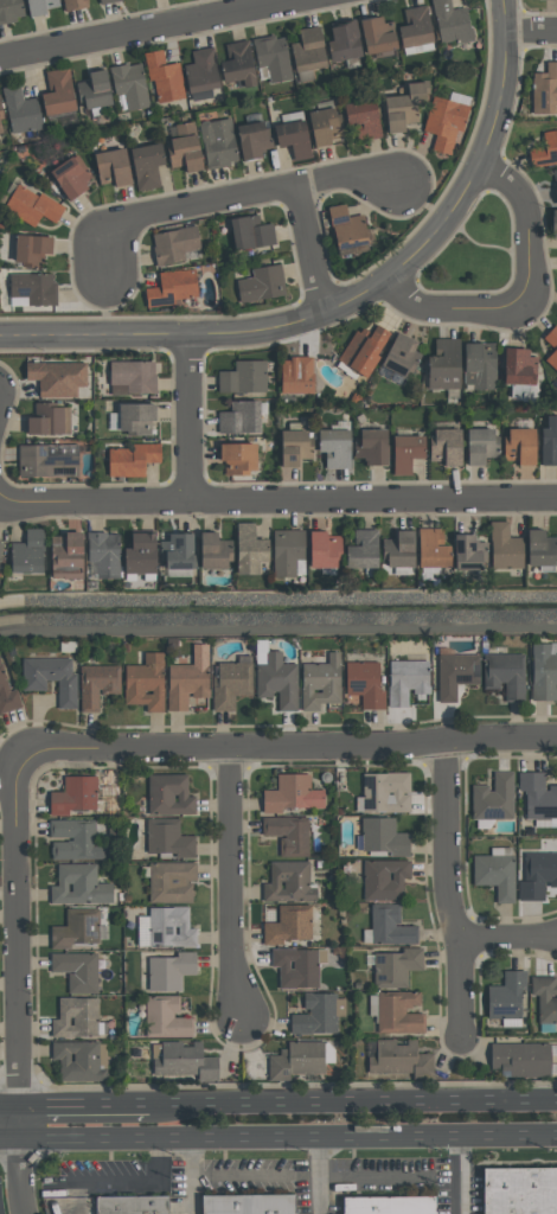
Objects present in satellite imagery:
building: (109, 1)
building: (75, 4)
building: (40, 6)
building: (9, 11)
building: (450, 21)
building: (415, 26)
road: (531, 28)
road: (152, 32)
building: (377, 34)
building: (342, 41)
building: (308, 49)
building: (271, 57)
building: (237, 63)
building: (201, 71)
building: (162, 77)
building: (129, 85)
building: (94, 89)
building: (545, 89)
building: (57, 92)
building: (403, 107)
building: (20, 110)
building: (1, 113)
building: (363, 117)
building: (444, 121)
building: (325, 126)
building: (0, 130)
building: (254, 138)
building: (294, 138)
building: (217, 142)
building: (185, 147)
building: (544, 151)
building: (146, 164)
building: (113, 166)
building: (71, 175)
building: (555, 184)
road: (232, 197)
building: (32, 206)
building: (553, 222)
road: (527, 225)
building: (346, 228)
building: (250, 231)
building: (173, 244)
road: (312, 248)
building: (31, 249)
building: (262, 283)
building: (33, 287)
building: (172, 287)
road: (351, 298)
road: (449, 312)
building: (552, 345)
building: (361, 349)
building: (399, 356)
building: (443, 364)
building: (479, 365)
building: (518, 366)
building: (133, 375)
building: (296, 375)
building: (57, 376)
building: (243, 377)
building: (136, 417)
building: (238, 417)
building: (49, 418)
road: (188, 418)
building: (549, 441)
building: (480, 445)
building: (371, 446)
building: (519, 446)
building: (294, 447)
building: (334, 447)
building: (444, 447)
building: (405, 453)
building: (237, 458)
building: (130, 459)
building: (45, 462)
road: (278, 499)
building: (0, 543)
building: (504, 547)
building: (540, 548)
building: (249, 549)
building: (322, 549)
building: (398, 549)
building: (431, 549)
building: (177, 550)
building: (215, 550)
building: (361, 550)
building: (27, 551)
building: (287, 551)
building: (468, 552)
building: (104, 554)
building: (140, 554)
building: (66, 555)
building: (544, 672)
building: (455, 673)
building: (505, 673)
building: (50, 678)
building: (187, 678)
building: (276, 681)
building: (406, 681)
building: (320, 682)
building: (145, 683)
building: (230, 683)
building: (364, 683)
building: (97, 684)
building: (7, 695)
road: (289, 748)
building: (385, 792)
building: (292, 793)
building: (75, 794)
building: (168, 794)
building: (538, 797)
building: (493, 798)
building: (288, 835)
building: (383, 837)
building: (167, 838)
building: (76, 841)
building: (494, 874)
building: (537, 875)
building: (384, 878)
building: (171, 882)
building: (288, 882)
road: (231, 883)
building: (78, 886)
road: (449, 889)
building: (287, 925)
building: (389, 926)
building: (169, 927)
building: (76, 928)
road: (507, 938)
road: (15, 940)
building: (295, 967)
building: (395, 967)
building: (76, 970)
building: (168, 971)
building: (505, 996)
building: (545, 997)
building: (397, 1011)
building: (315, 1015)
building: (76, 1017)
building: (165, 1017)
building: (519, 1059)
building: (185, 1060)
building: (296, 1060)
building: (399, 1060)
building: (77, 1061)
road: (353, 1099)
road: (84, 1103)
road: (9, 1104)
road: (288, 1135)
road: (9, 1138)
road: (20, 1169)
road: (319, 1174)
road: (457, 1174)
road: (190, 1175)
road: (255, 1176)
building: (520, 1190)
building: (132, 1203)
building: (250, 1205)
building: (391, 1205)

